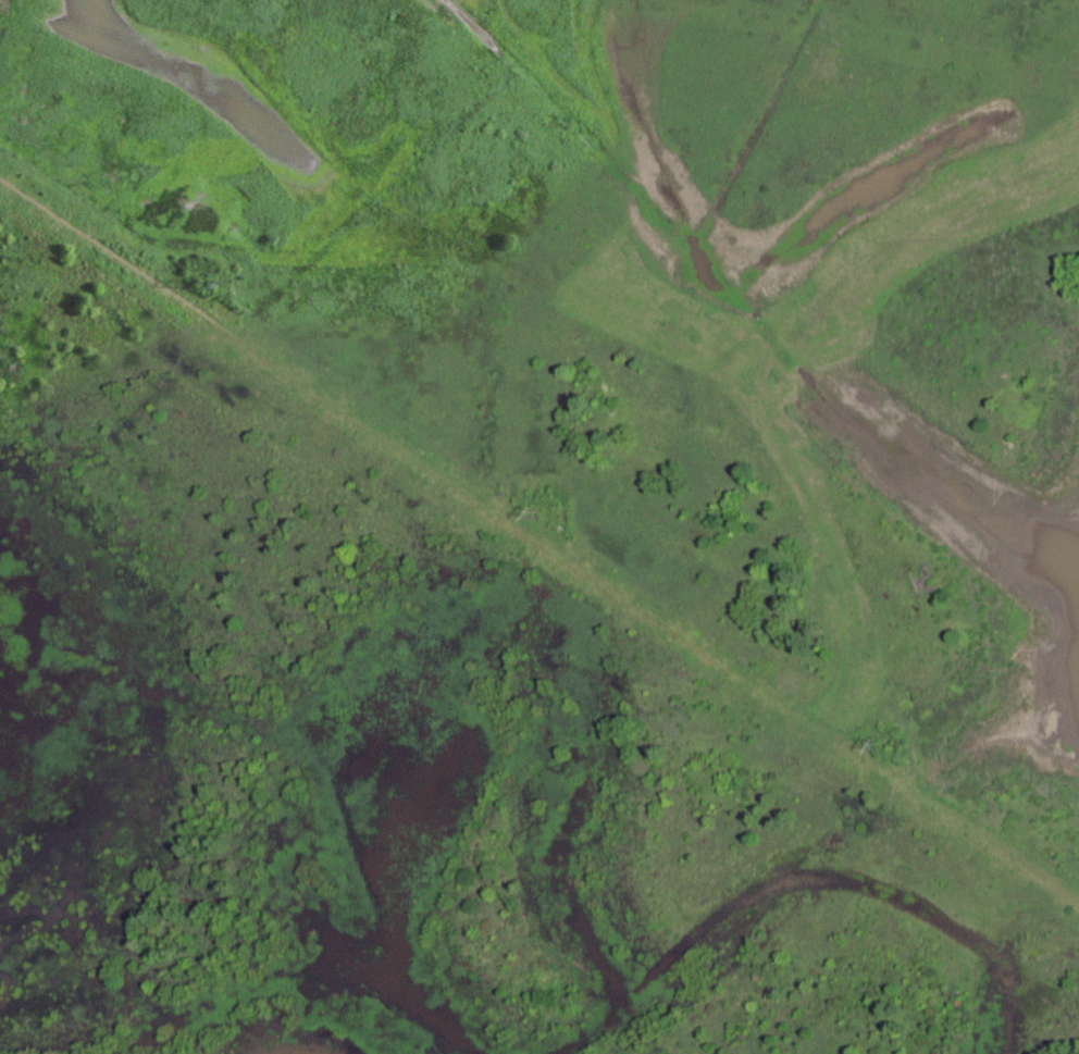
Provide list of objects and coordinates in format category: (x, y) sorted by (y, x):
power tower: (190, 285)
power tower: (524, 510)
power tower: (878, 751)

